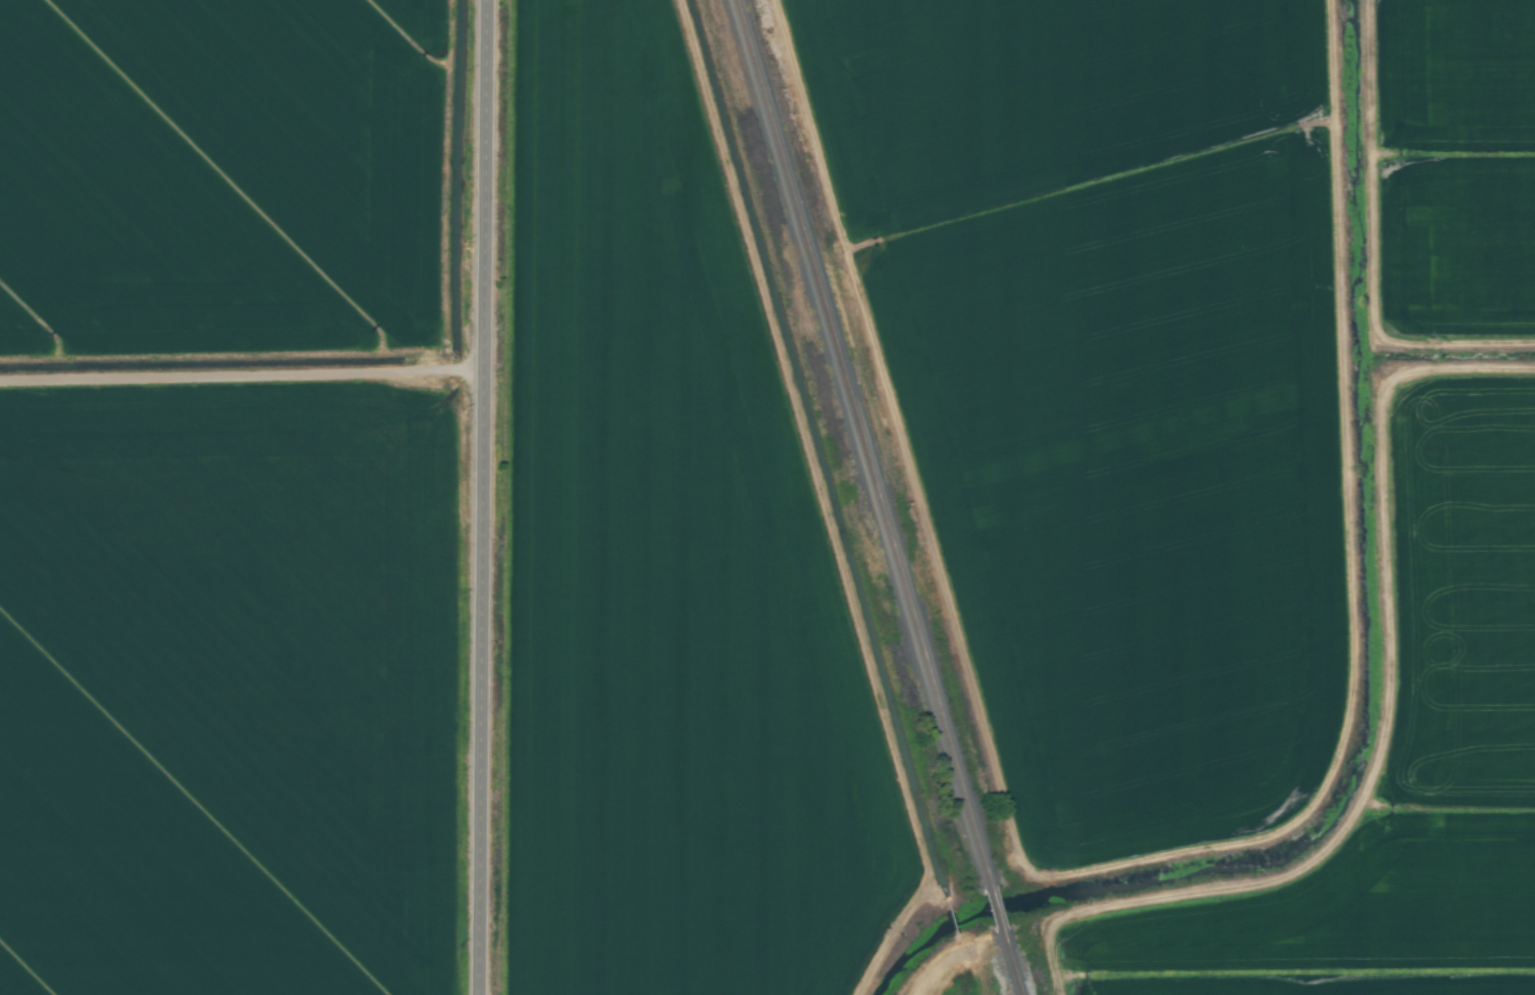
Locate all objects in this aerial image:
railway: (859, 443)
road: (488, 497)
railway: (993, 910)
railway: (1008, 964)

